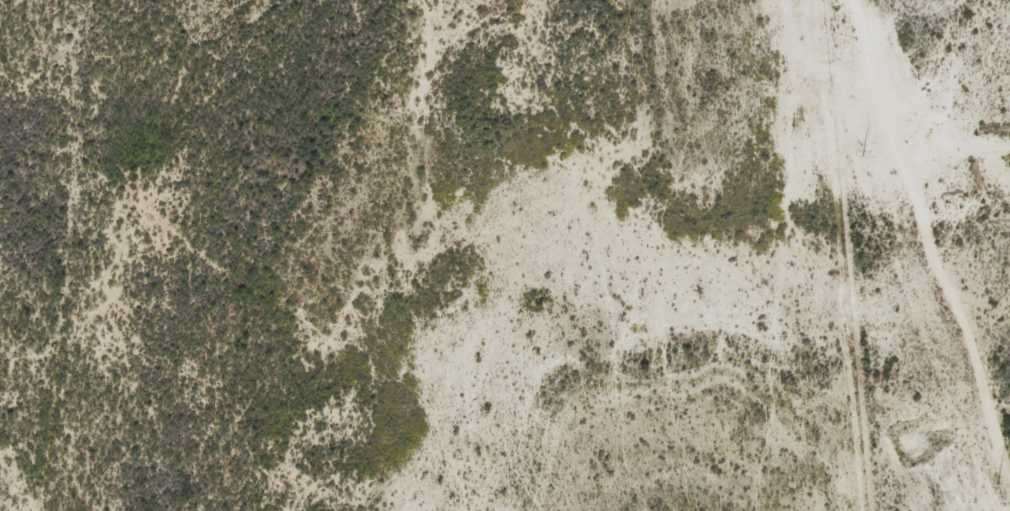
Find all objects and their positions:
power tower: (864, 156)
road: (931, 235)
power tower: (997, 484)

